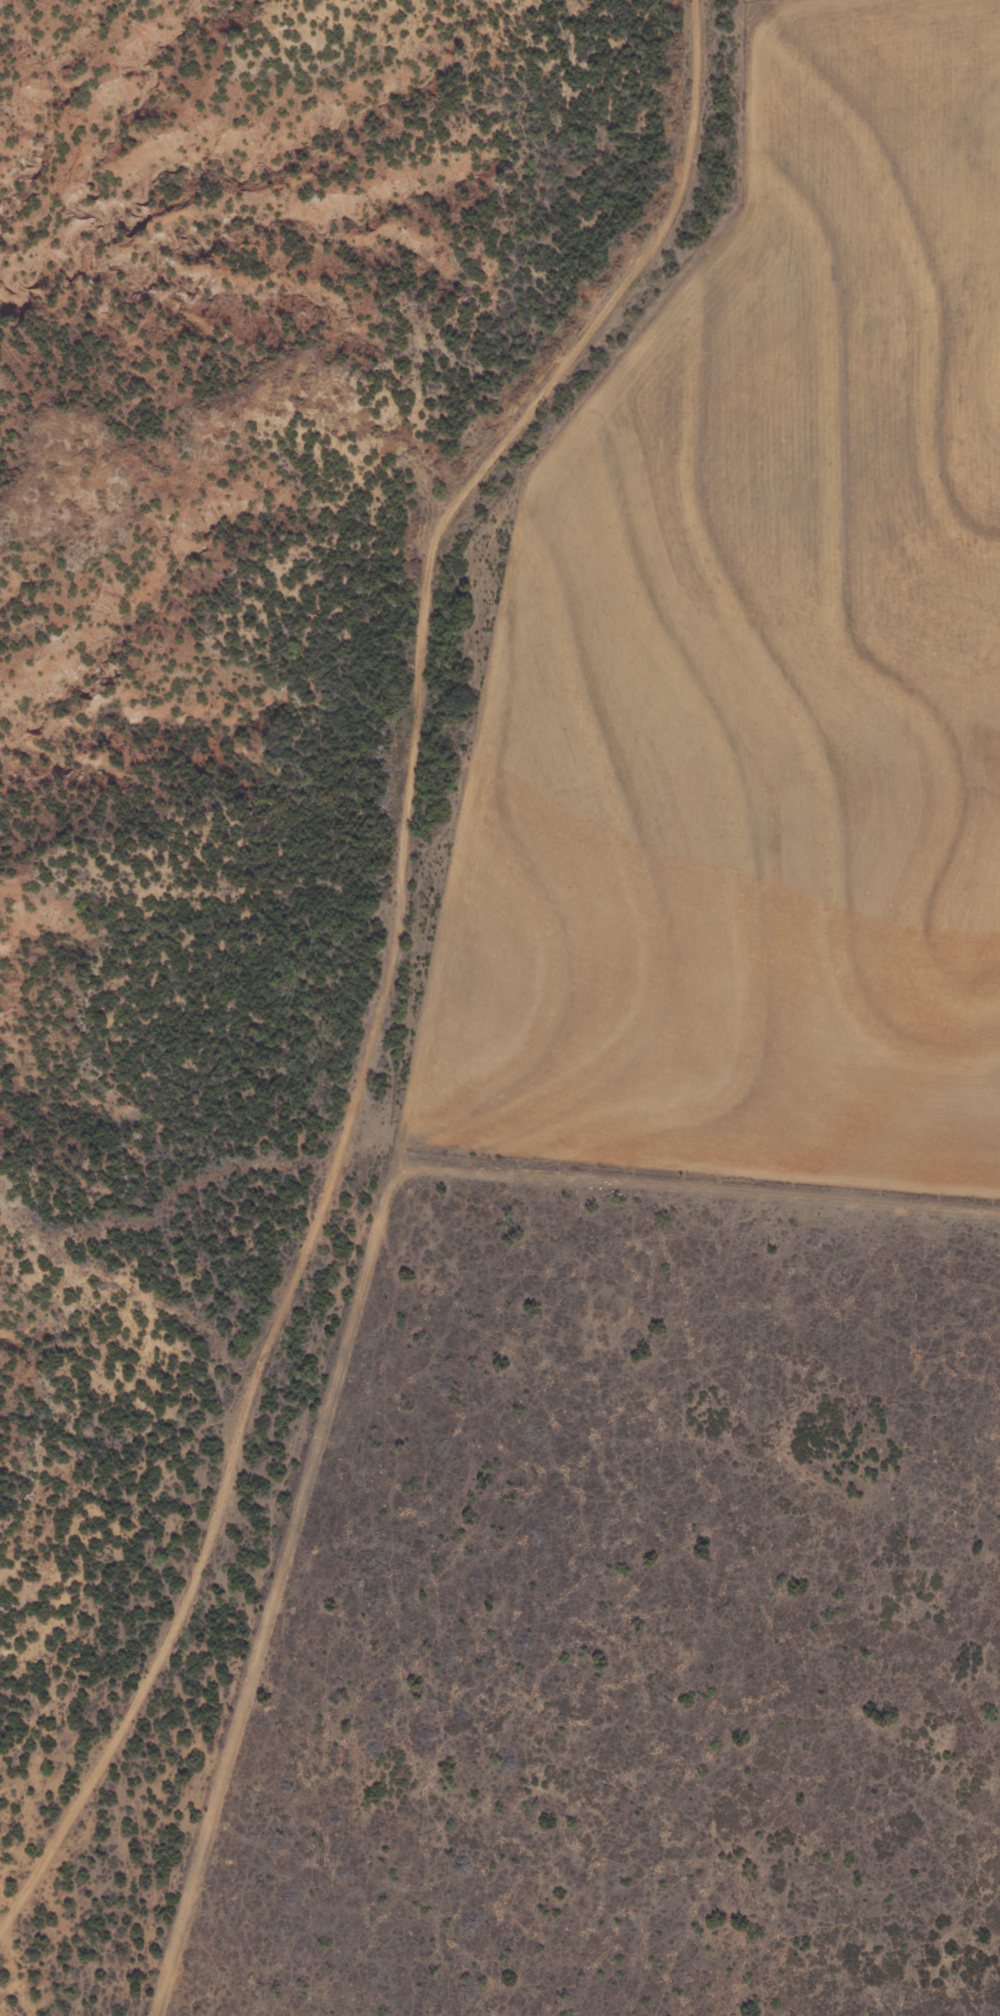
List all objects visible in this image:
road: (396, 958)
road: (380, 1438)

